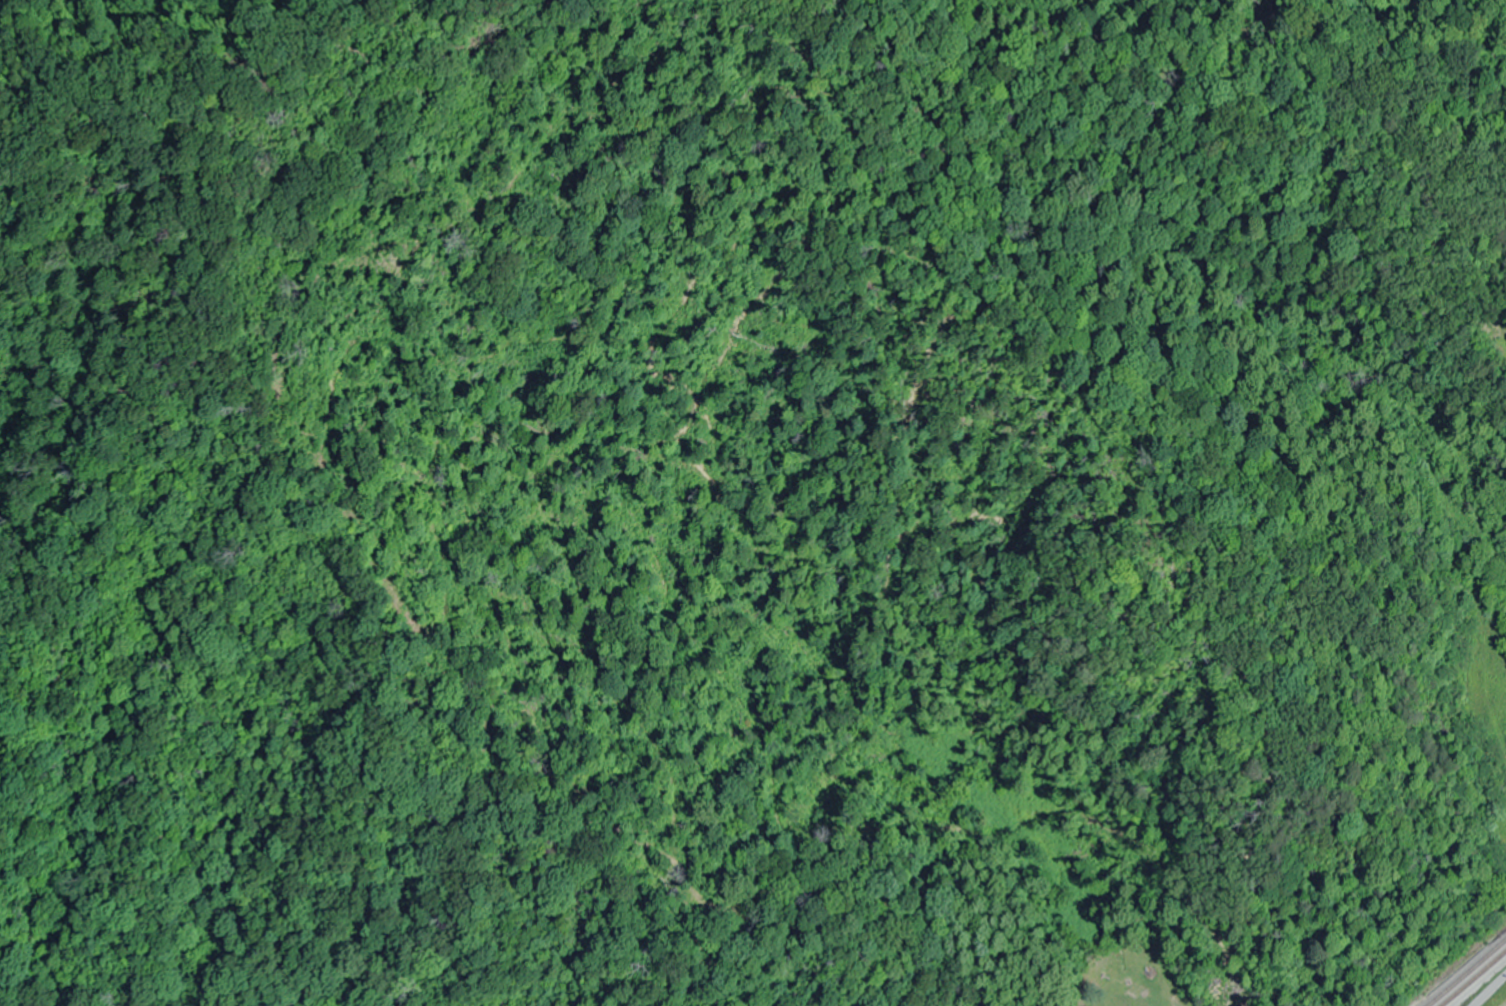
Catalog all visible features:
railway: (1466, 972)
railway: (1474, 978)
road: (1489, 989)
road: (1298, 997)

